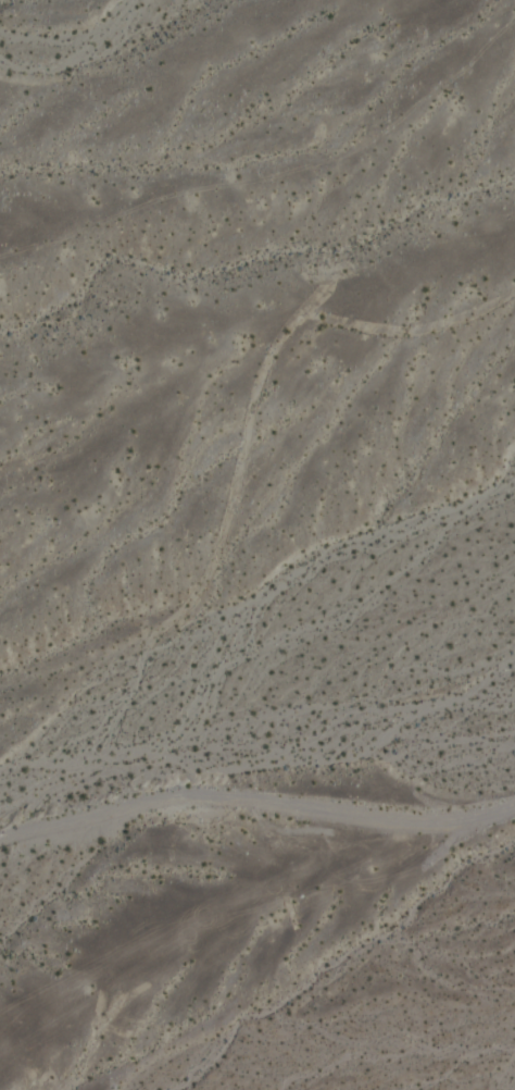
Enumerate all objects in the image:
road: (254, 800)

